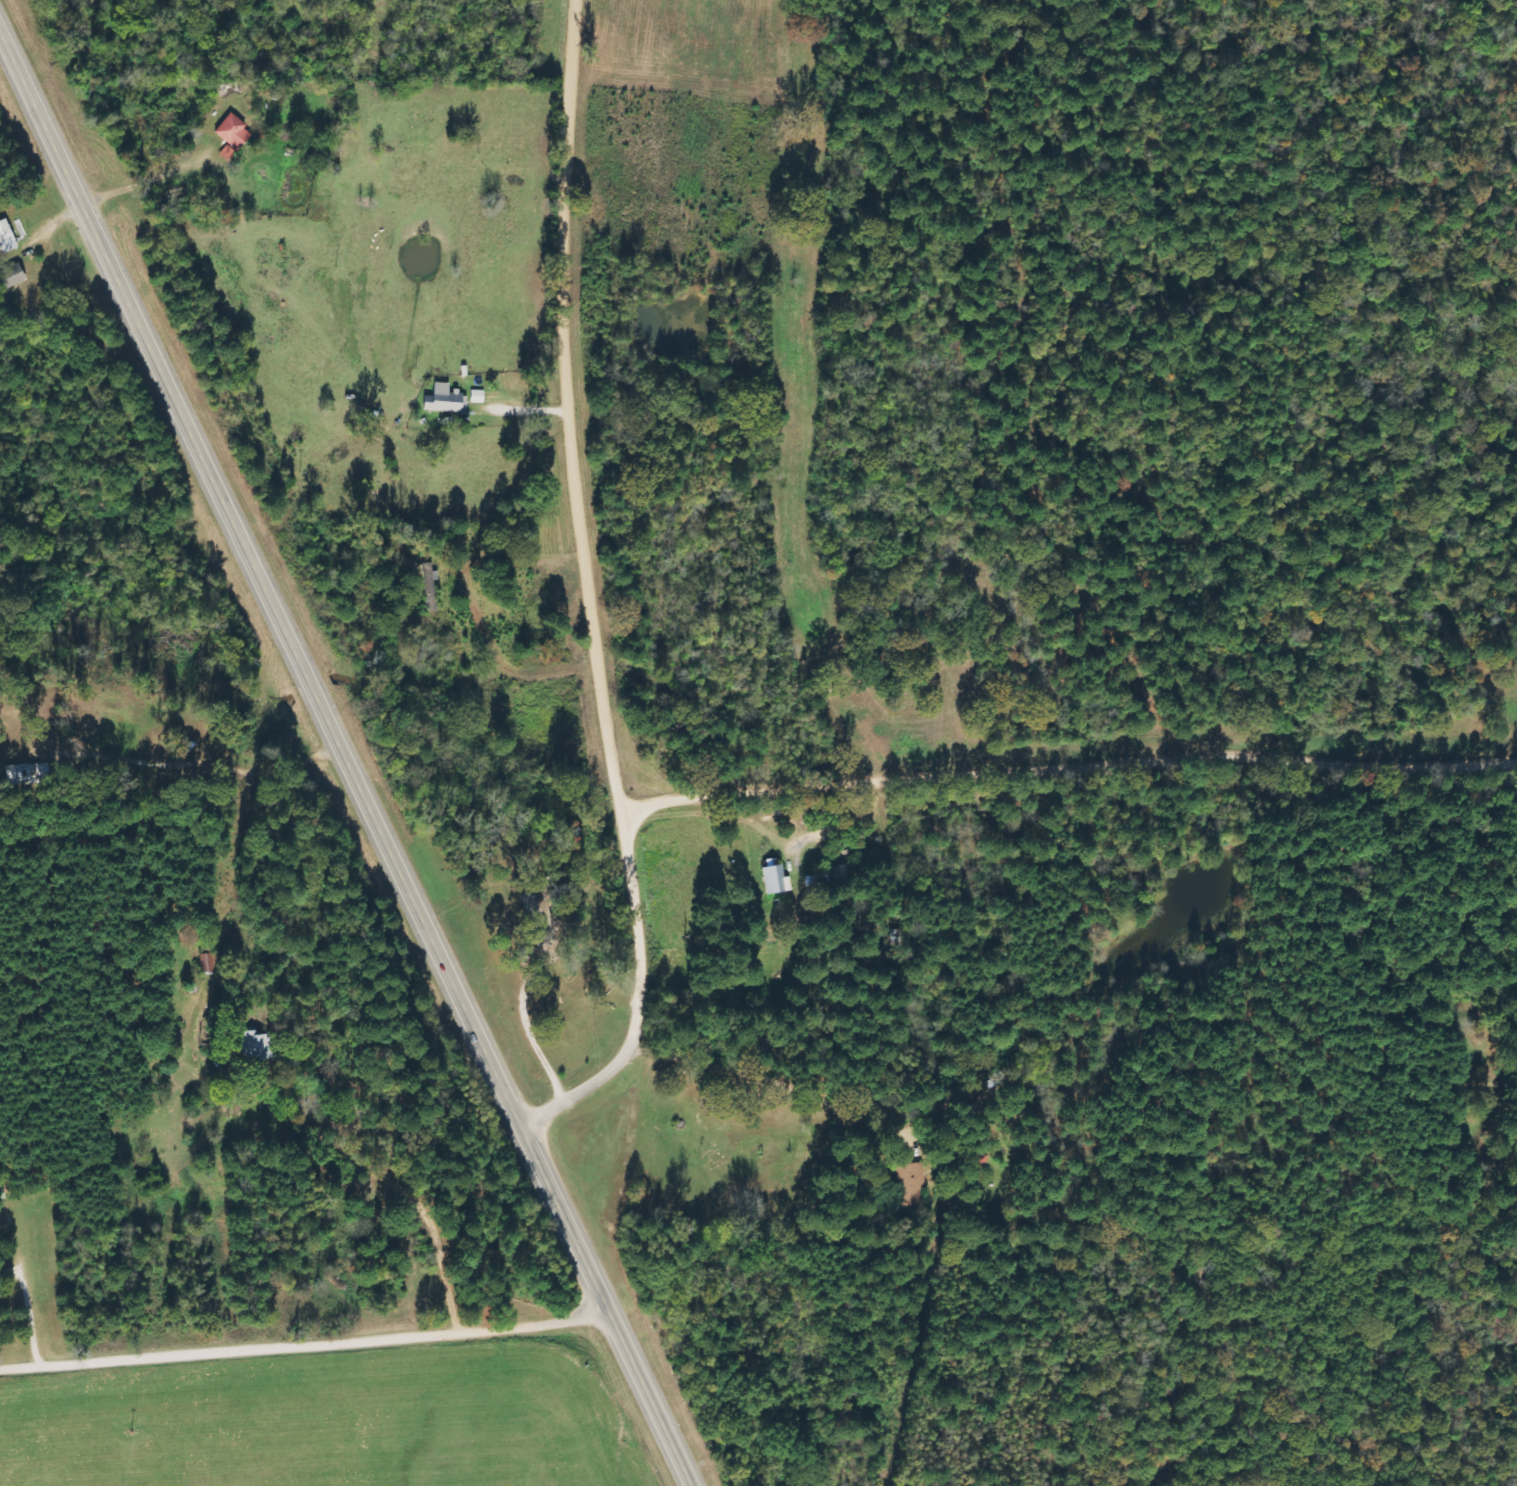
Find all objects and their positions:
building: (235, 134)
building: (8, 237)
building: (17, 275)
building: (444, 400)
building: (430, 594)
road: (596, 596)
road: (345, 760)
road: (1070, 769)
building: (27, 775)
building: (775, 879)
building: (980, 1157)
road: (304, 1350)

